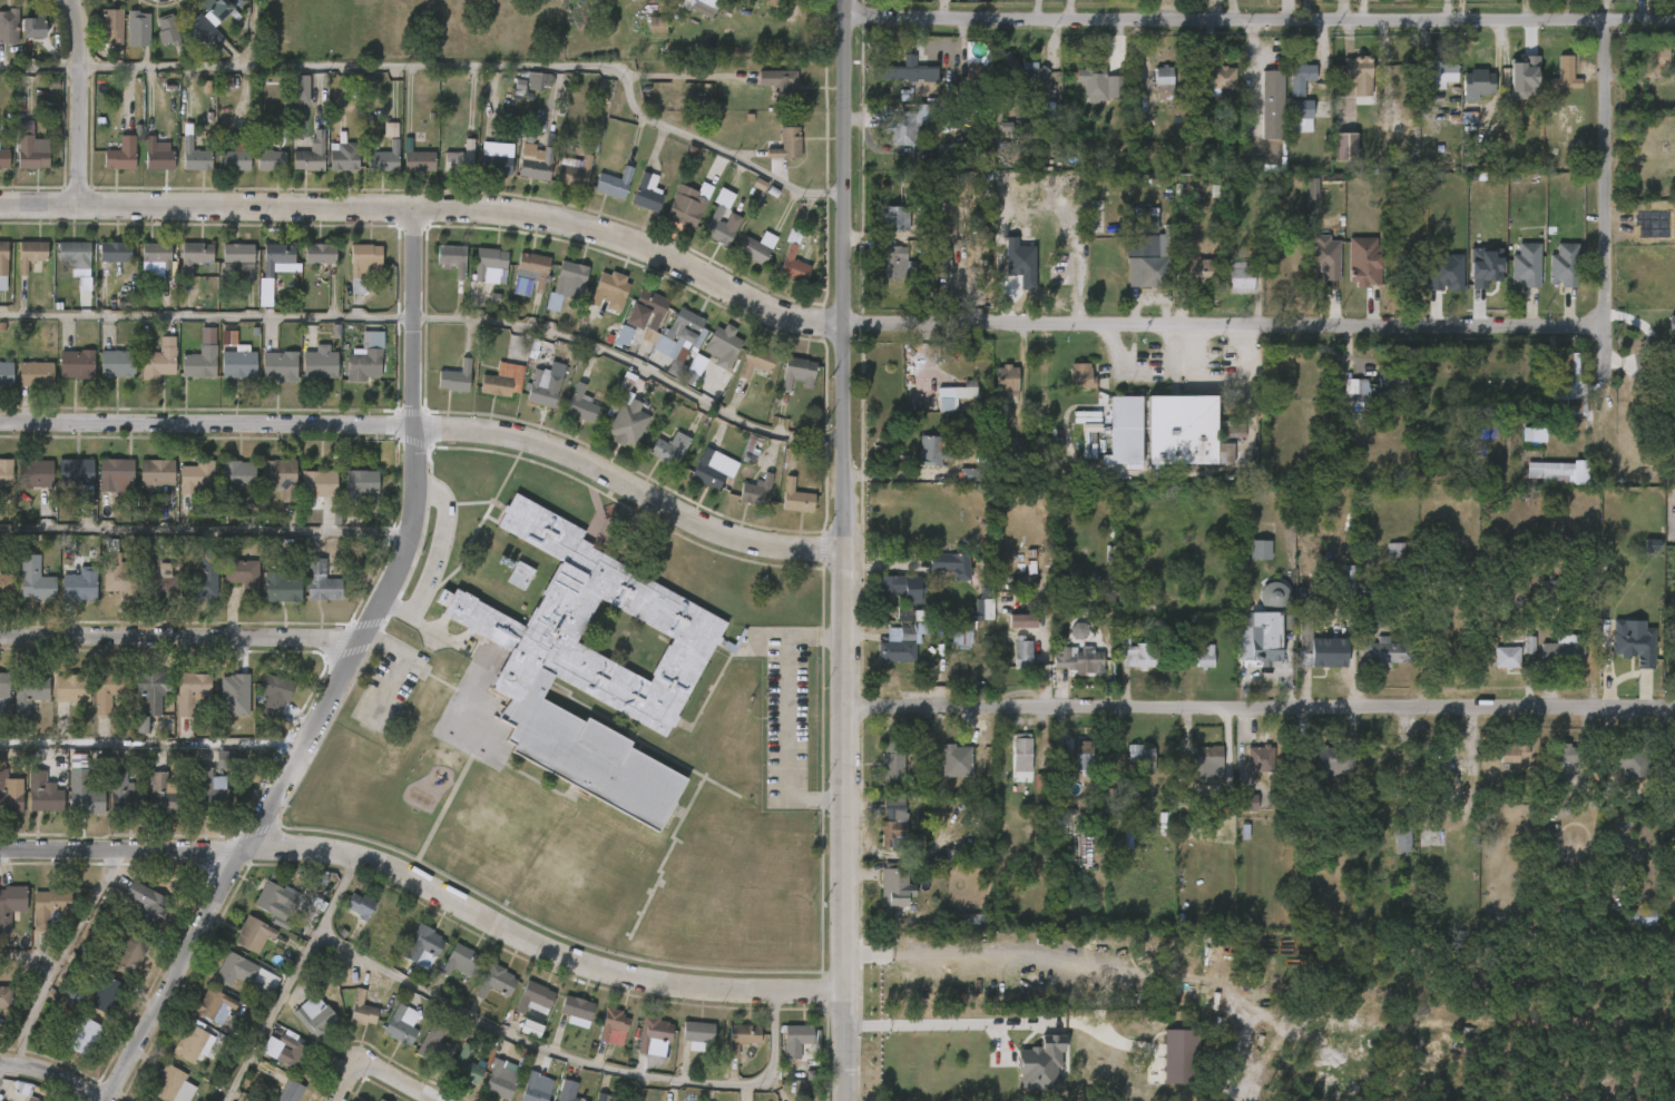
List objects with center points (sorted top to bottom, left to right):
building: (771, 2)
building: (702, 6)
building: (221, 10)
road: (1223, 20)
road: (1640, 21)
building: (33, 24)
building: (9, 26)
building: (111, 26)
building: (657, 26)
building: (140, 28)
building: (205, 30)
building: (169, 31)
road: (253, 33)
building: (1652, 61)
road: (482, 66)
road: (39, 68)
building: (907, 71)
building: (1438, 73)
road: (686, 75)
building: (1020, 75)
building: (1356, 75)
building: (1563, 75)
building: (1299, 77)
building: (1222, 78)
building: (1525, 79)
building: (538, 80)
building: (52, 82)
building: (780, 82)
building: (1162, 82)
building: (1477, 82)
building: (1090, 83)
building: (518, 89)
building: (300, 90)
road: (79, 102)
building: (1270, 104)
building: (1299, 116)
building: (904, 127)
building: (787, 144)
building: (30, 147)
building: (1345, 147)
building: (121, 154)
building: (342, 154)
building: (160, 155)
building: (238, 155)
building: (196, 156)
building: (271, 157)
building: (311, 157)
building: (533, 157)
building: (4, 158)
building: (382, 158)
building: (458, 158)
building: (494, 158)
building: (415, 161)
building: (571, 171)
building: (610, 184)
building: (645, 193)
building: (687, 206)
road: (431, 209)
building: (713, 216)
building: (892, 219)
road: (1610, 222)
building: (939, 229)
building: (1145, 249)
building: (72, 250)
building: (751, 250)
building: (115, 252)
building: (788, 252)
building: (320, 253)
building: (30, 254)
building: (950, 254)
building: (157, 255)
building: (195, 255)
building: (237, 257)
building: (1323, 257)
building: (452, 258)
building: (276, 260)
building: (489, 262)
building: (893, 262)
building: (1363, 262)
building: (362, 263)
building: (1524, 264)
building: (1563, 264)
building: (2, 265)
building: (1485, 266)
building: (532, 268)
building: (1199, 271)
building: (1444, 273)
building: (570, 277)
building: (1240, 277)
building: (609, 288)
building: (645, 313)
road: (207, 316)
road: (1226, 322)
building: (1671, 325)
building: (678, 333)
building: (624, 335)
building: (207, 336)
building: (719, 346)
building: (1672, 352)
building: (236, 357)
building: (365, 357)
building: (159, 361)
building: (199, 363)
building: (755, 363)
building: (76, 364)
building: (117, 364)
building: (280, 365)
building: (320, 365)
road: (631, 365)
building: (693, 370)
building: (7, 373)
building: (36, 374)
building: (795, 375)
building: (456, 377)
building: (1080, 377)
building: (1393, 377)
building: (503, 381)
building: (1565, 382)
building: (1005, 384)
road: (1044, 385)
building: (543, 389)
building: (1354, 393)
building: (952, 397)
building: (584, 404)
building: (1087, 417)
building: (627, 424)
road: (432, 429)
building: (1184, 430)
building: (1125, 431)
building: (1534, 435)
building: (670, 449)
building: (936, 450)
building: (7, 471)
building: (158, 472)
building: (707, 472)
building: (1549, 472)
building: (36, 473)
building: (239, 473)
road: (892, 473)
building: (117, 474)
building: (78, 475)
building: (198, 475)
building: (970, 475)
building: (281, 476)
building: (319, 483)
building: (355, 489)
building: (757, 491)
building: (796, 498)
road: (205, 530)
road: (841, 550)
building: (1397, 553)
road: (431, 556)
road: (882, 562)
building: (950, 563)
building: (118, 572)
building: (205, 574)
building: (520, 576)
building: (243, 578)
building: (36, 579)
building: (157, 581)
building: (321, 583)
building: (7, 584)
building: (81, 584)
building: (281, 584)
building: (903, 587)
building: (1273, 597)
building: (1364, 598)
building: (1144, 601)
building: (977, 621)
building: (1021, 621)
building: (1079, 630)
building: (1256, 635)
road: (180, 639)
building: (1633, 642)
building: (900, 648)
building: (1561, 651)
building: (1385, 652)
building: (1021, 653)
building: (1139, 656)
building: (1320, 656)
building: (1203, 657)
building: (1506, 658)
building: (1077, 659)
road: (395, 666)
building: (587, 668)
road: (341, 676)
building: (4, 682)
building: (74, 687)
building: (110, 689)
building: (194, 692)
building: (28, 694)
building: (153, 695)
building: (234, 696)
building: (274, 696)
road: (1256, 705)
road: (784, 716)
parking lot: (784, 717)
road: (150, 743)
building: (1514, 751)
building: (961, 753)
building: (1083, 754)
building: (1020, 757)
building: (1384, 758)
building: (225, 759)
building: (1140, 759)
building: (1206, 759)
building: (1258, 759)
building: (1558, 759)
building: (1630, 759)
building: (1333, 760)
building: (890, 761)
building: (1448, 767)
building: (1039, 781)
building: (208, 793)
building: (9, 794)
building: (42, 794)
building: (82, 795)
building: (127, 796)
building: (167, 796)
building: (1247, 803)
building: (1188, 804)
building: (892, 823)
building: (1400, 838)
road: (427, 886)
building: (892, 887)
building: (270, 898)
building: (145, 903)
building: (11, 905)
building: (49, 905)
building: (360, 905)
building: (1640, 917)
building: (390, 923)
building: (976, 923)
building: (254, 932)
building: (423, 945)
road: (937, 948)
building: (130, 953)
road: (26, 955)
road: (57, 956)
building: (460, 959)
building: (238, 970)
road: (288, 977)
building: (496, 981)
building: (108, 995)
building: (6, 996)
building: (535, 997)
building: (217, 1003)
building: (362, 1009)
building: (577, 1010)
building: (315, 1016)
building: (613, 1022)
road: (942, 1023)
building: (400, 1025)
building: (654, 1031)
building: (698, 1034)
building: (86, 1036)
building: (743, 1036)
building: (797, 1036)
building: (193, 1043)
building: (433, 1044)
building: (293, 1051)
building: (1179, 1056)
road: (568, 1058)
building: (1041, 1065)
building: (467, 1066)
road: (53, 1075)
road: (398, 1080)
building: (501, 1080)
building: (169, 1082)
road: (349, 1087)
building: (535, 1089)
building: (27, 1090)
building: (290, 1091)
building: (568, 1091)
building: (603, 1097)
building: (378, 1100)
building: (380, 1100)

